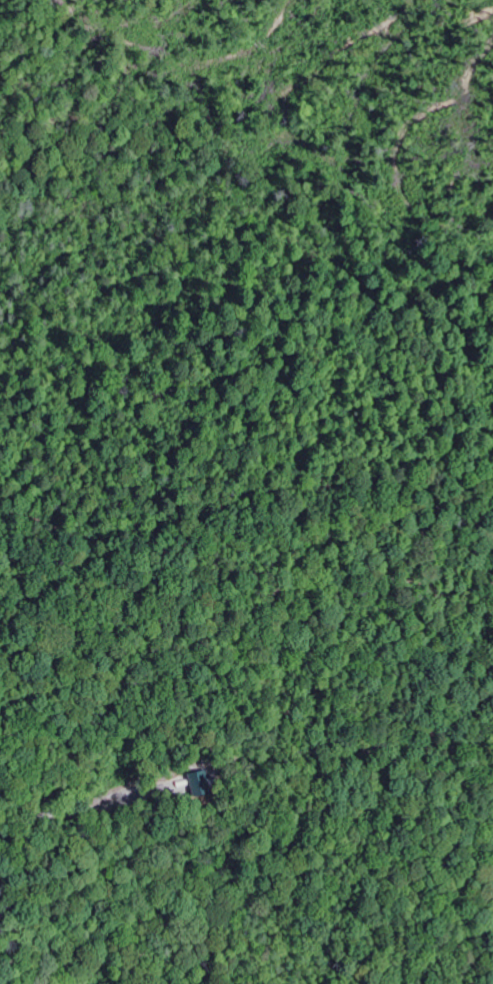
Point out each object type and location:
building: (197, 781)

